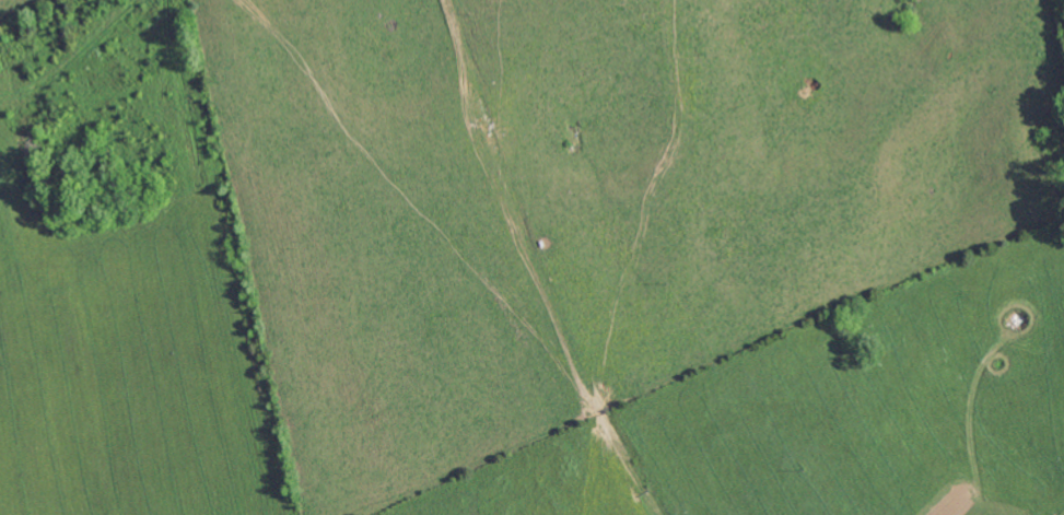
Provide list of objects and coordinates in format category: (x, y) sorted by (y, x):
road: (516, 262)

